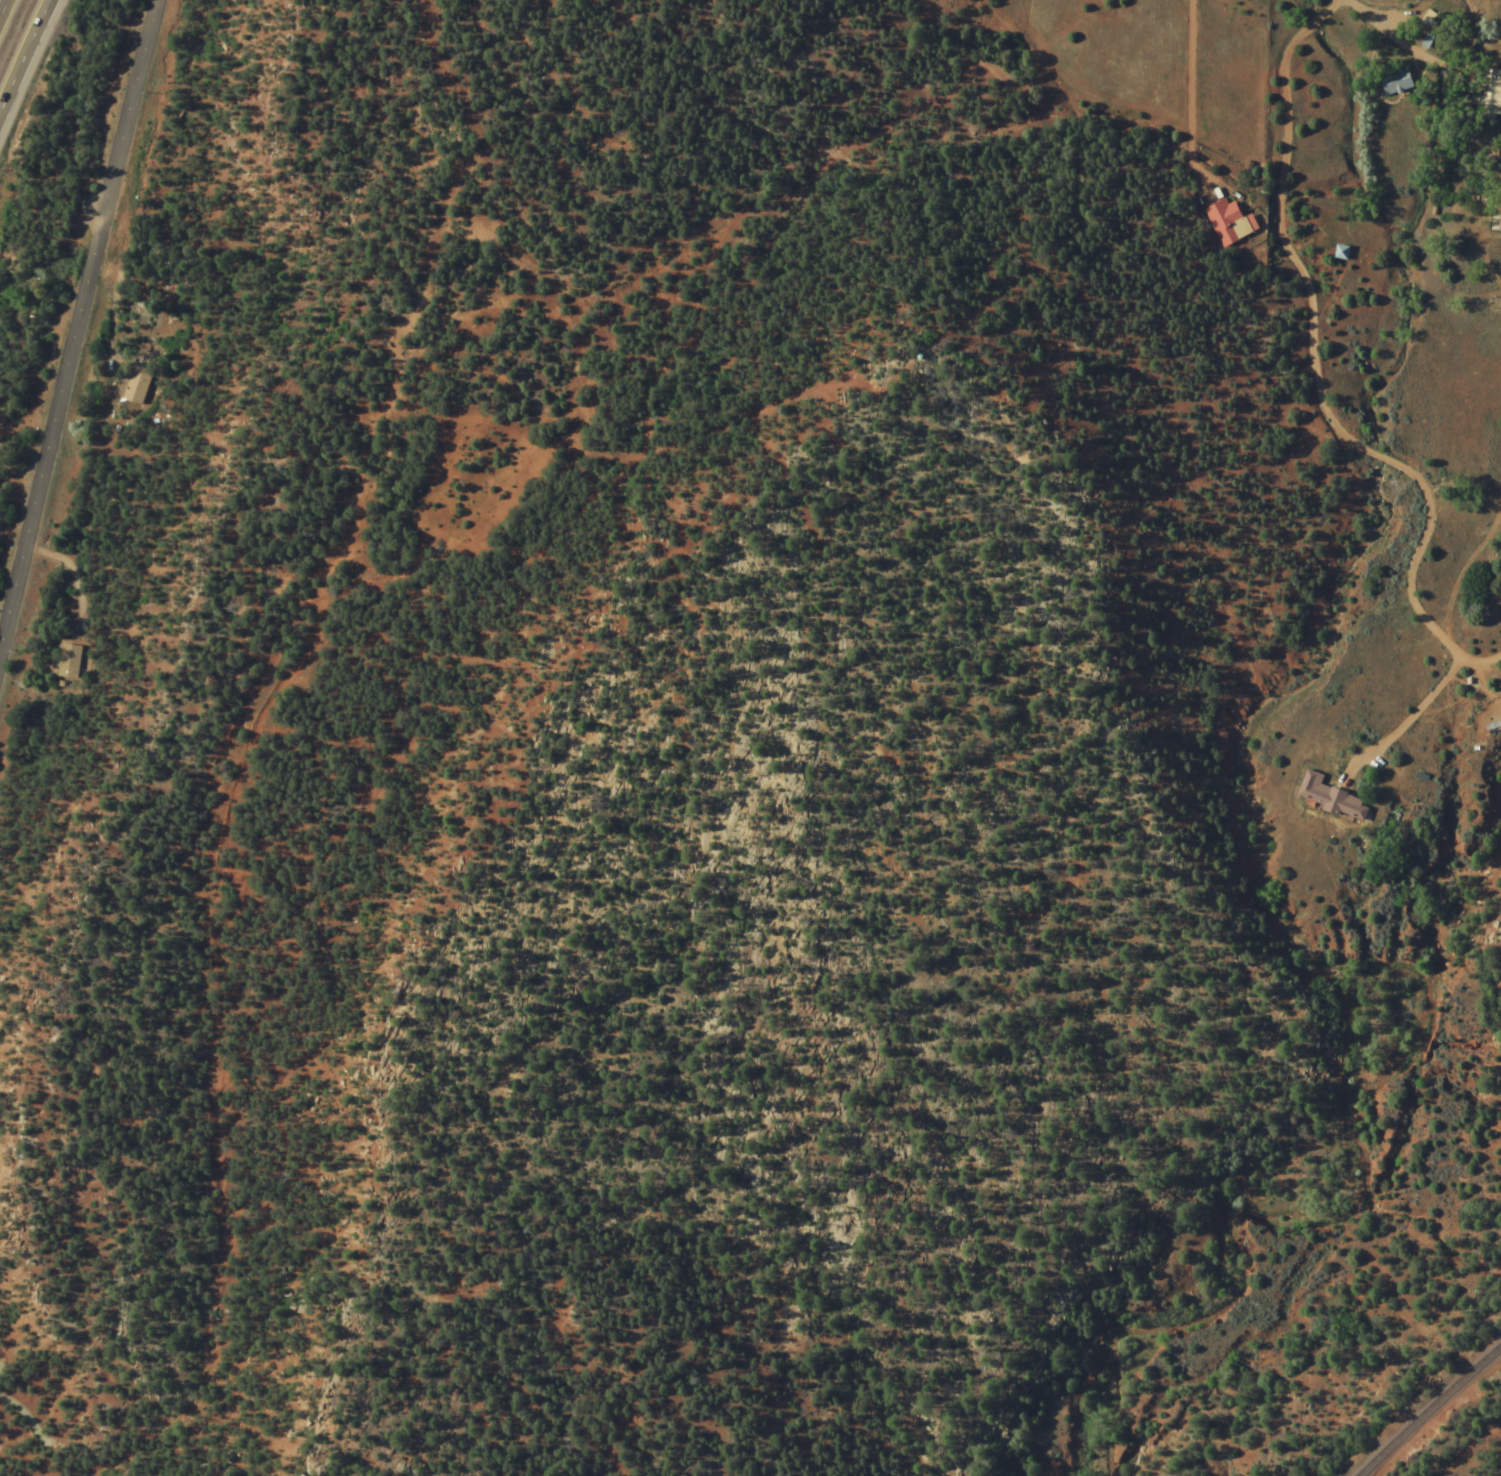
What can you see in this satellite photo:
road: (6, 15)
building: (1426, 24)
road: (30, 64)
building: (1395, 82)
building: (1493, 91)
building: (1226, 220)
building: (1340, 252)
road: (74, 296)
building: (137, 385)
building: (68, 660)
building: (1328, 797)
railway: (1427, 1409)

